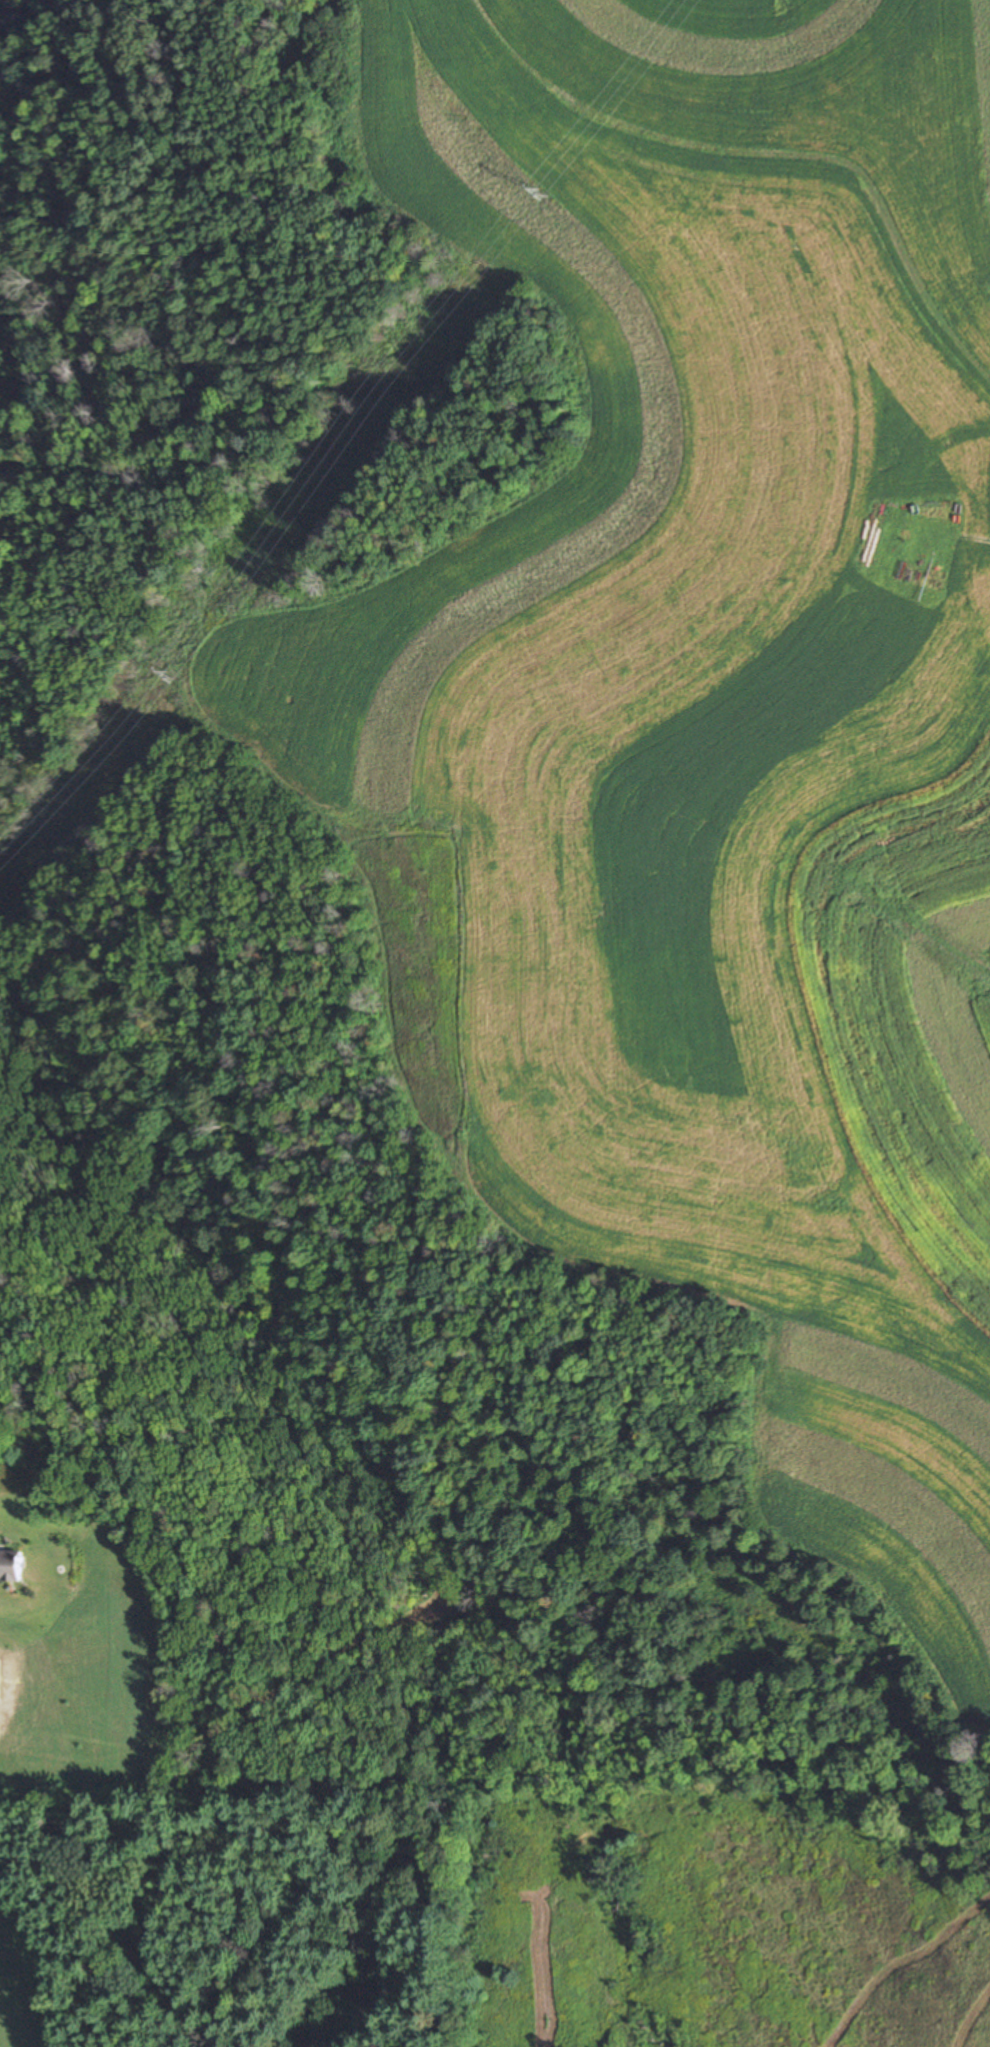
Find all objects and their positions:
power tower: (543, 193)
power tower: (172, 676)
building: (9, 1565)

